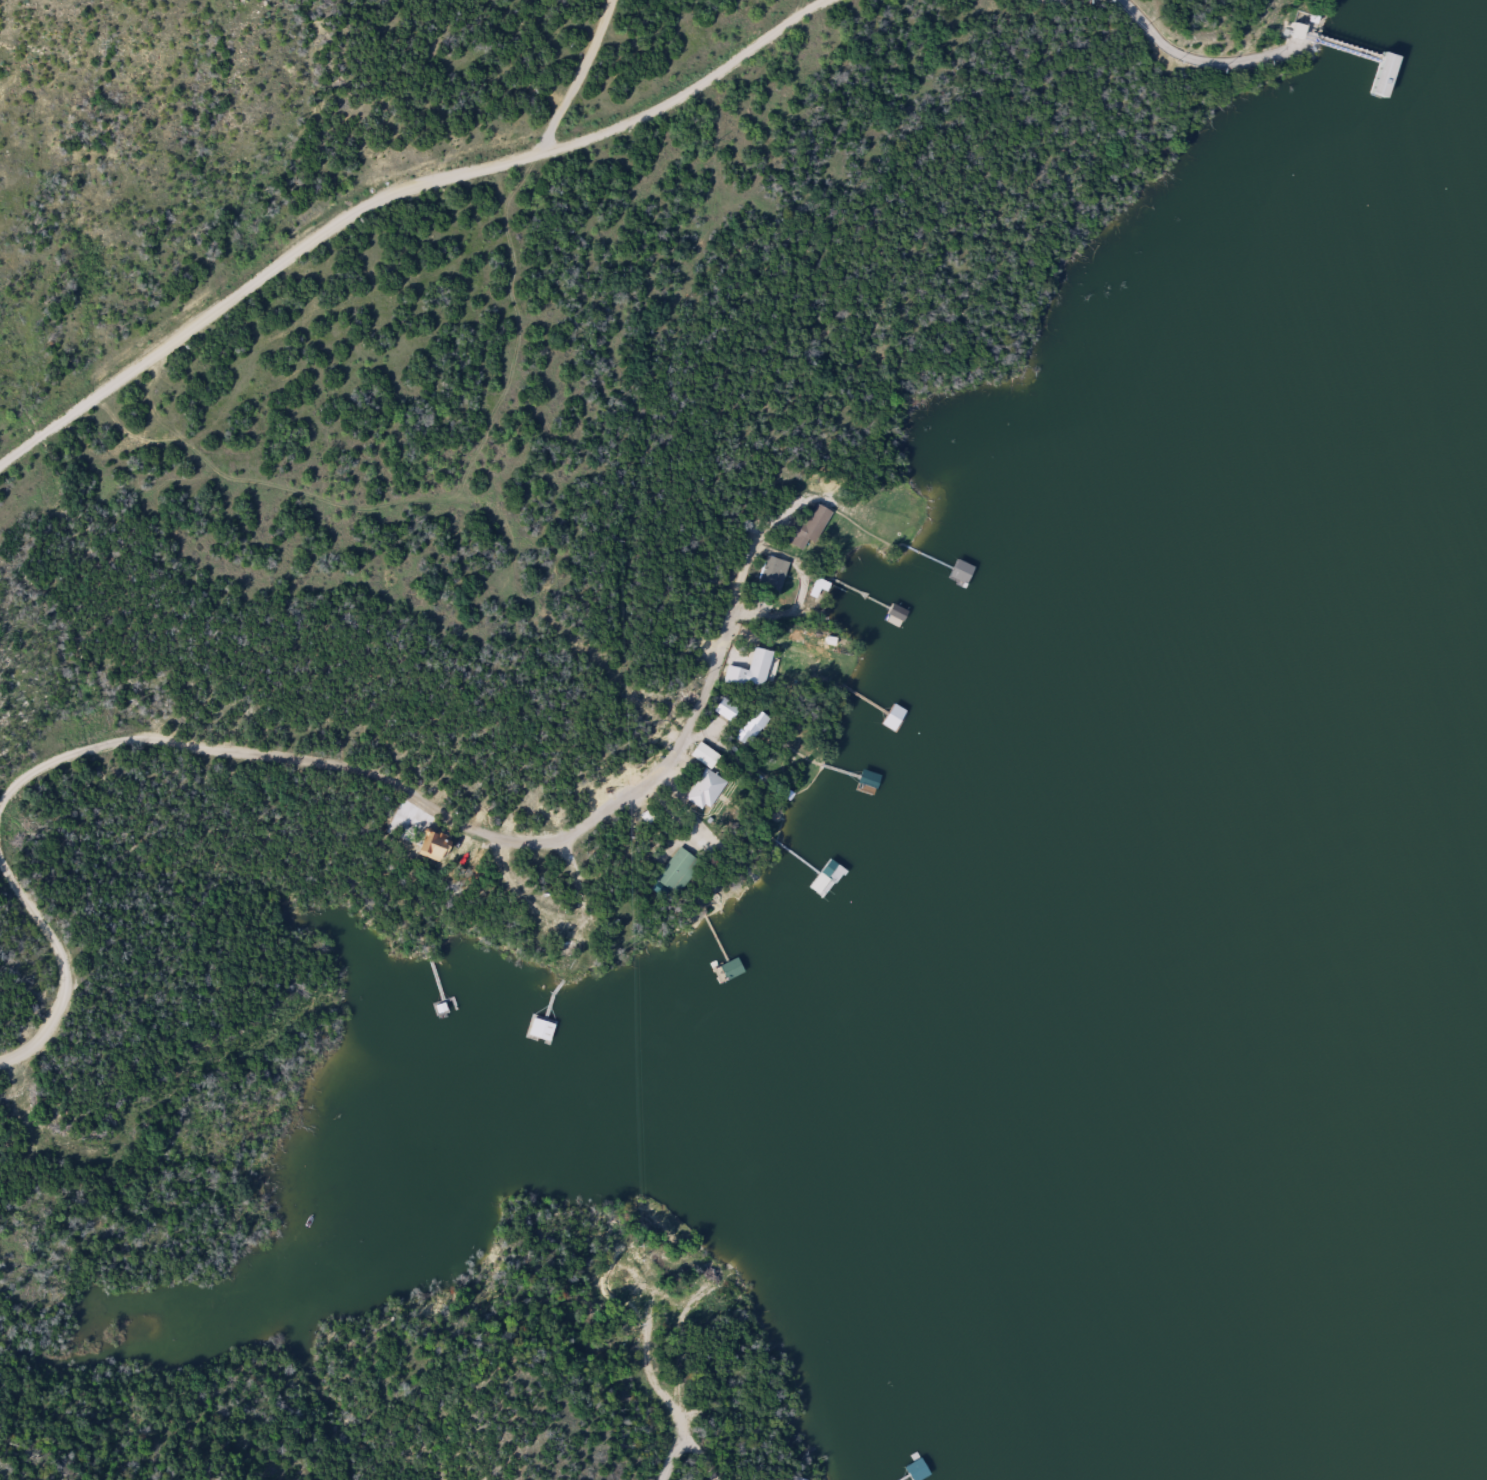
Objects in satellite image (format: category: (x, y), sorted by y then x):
road: (1216, 41)
park: (46, 61)
building: (1381, 77)
road: (687, 89)
road: (400, 187)
road: (70, 414)
road: (285, 483)
building: (807, 529)
building: (952, 570)
building: (771, 576)
building: (819, 590)
building: (750, 671)
building: (812, 680)
building: (726, 710)
building: (890, 718)
building: (752, 729)
road: (211, 737)
building: (704, 781)
building: (865, 781)
building: (402, 813)
building: (433, 845)
building: (677, 872)
building: (559, 938)
building: (730, 972)
building: (557, 1023)
building: (613, 1289)
road: (724, 1374)
road: (659, 1382)
building: (915, 1472)

